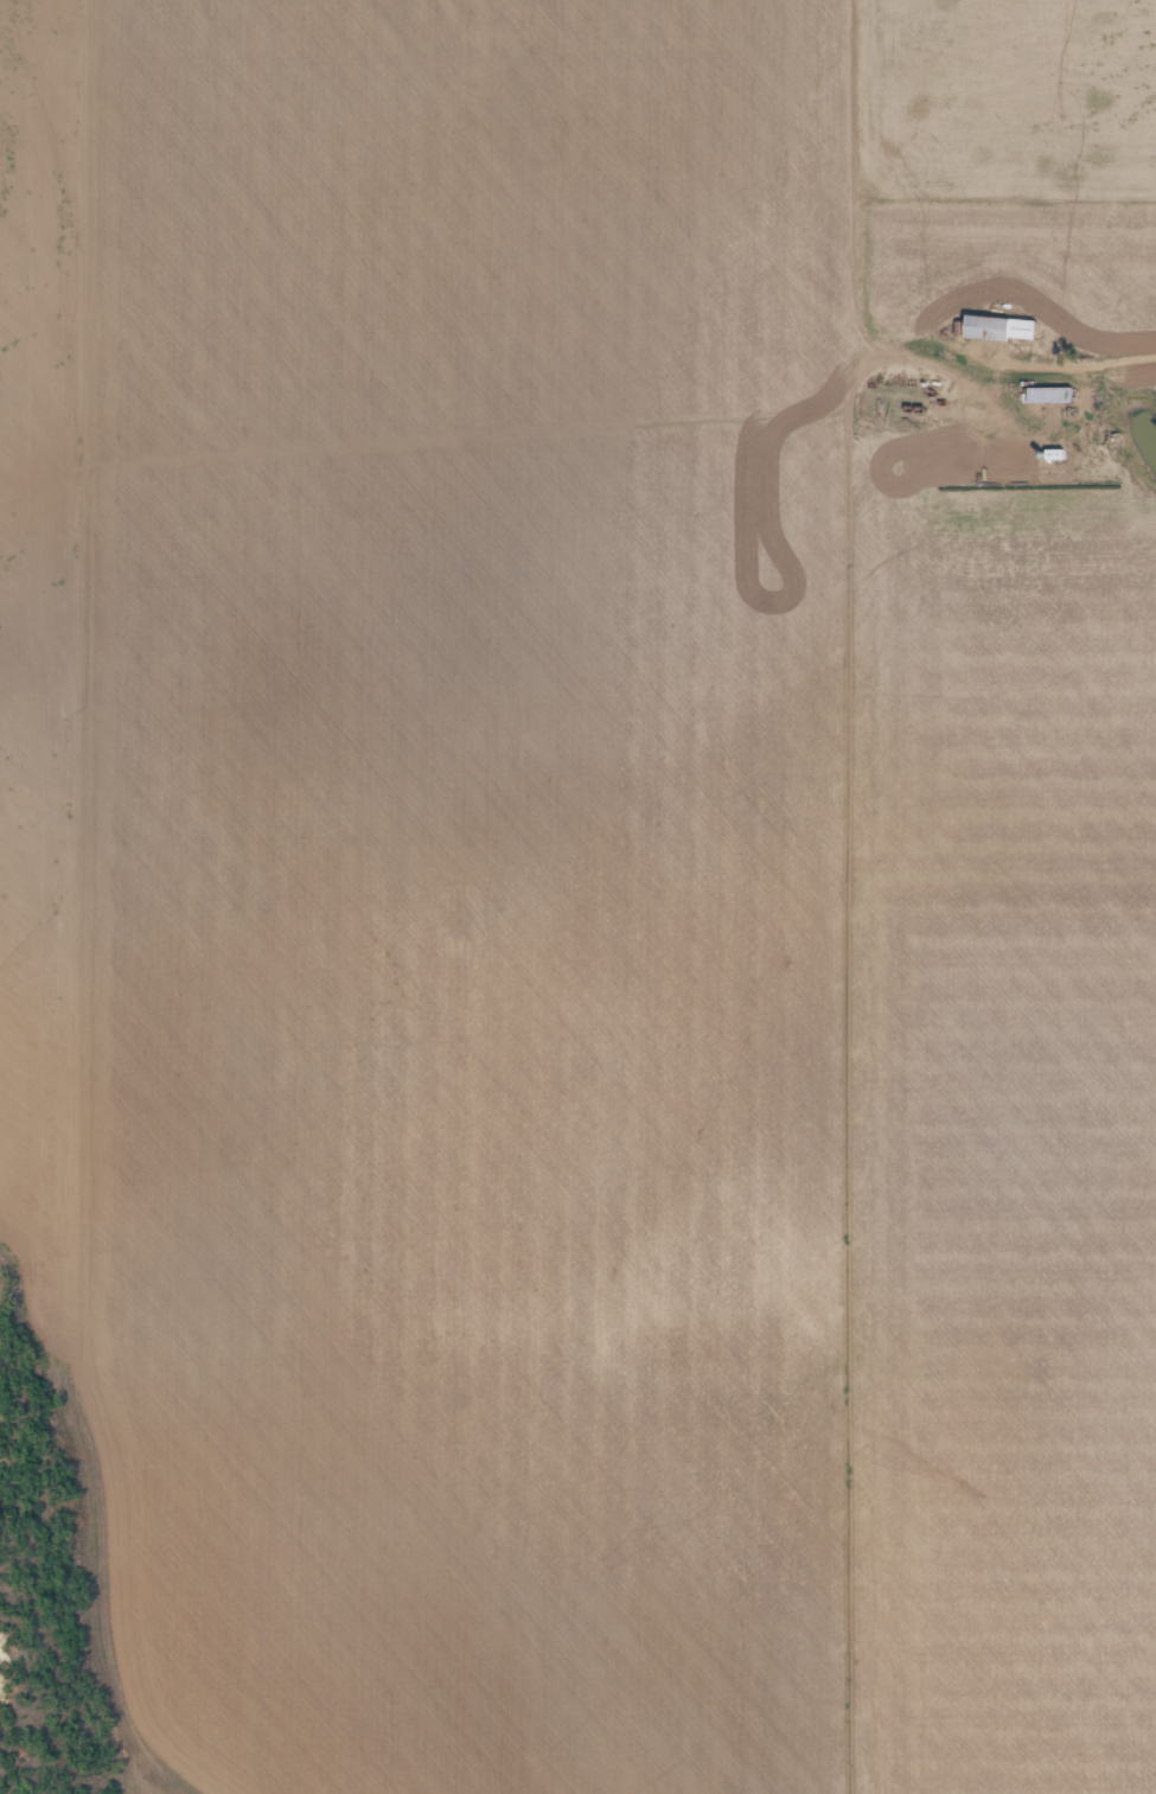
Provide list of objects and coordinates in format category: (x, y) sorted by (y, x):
building: (997, 327)
road: (1015, 355)
building: (907, 375)
building: (1047, 394)
building: (970, 440)

